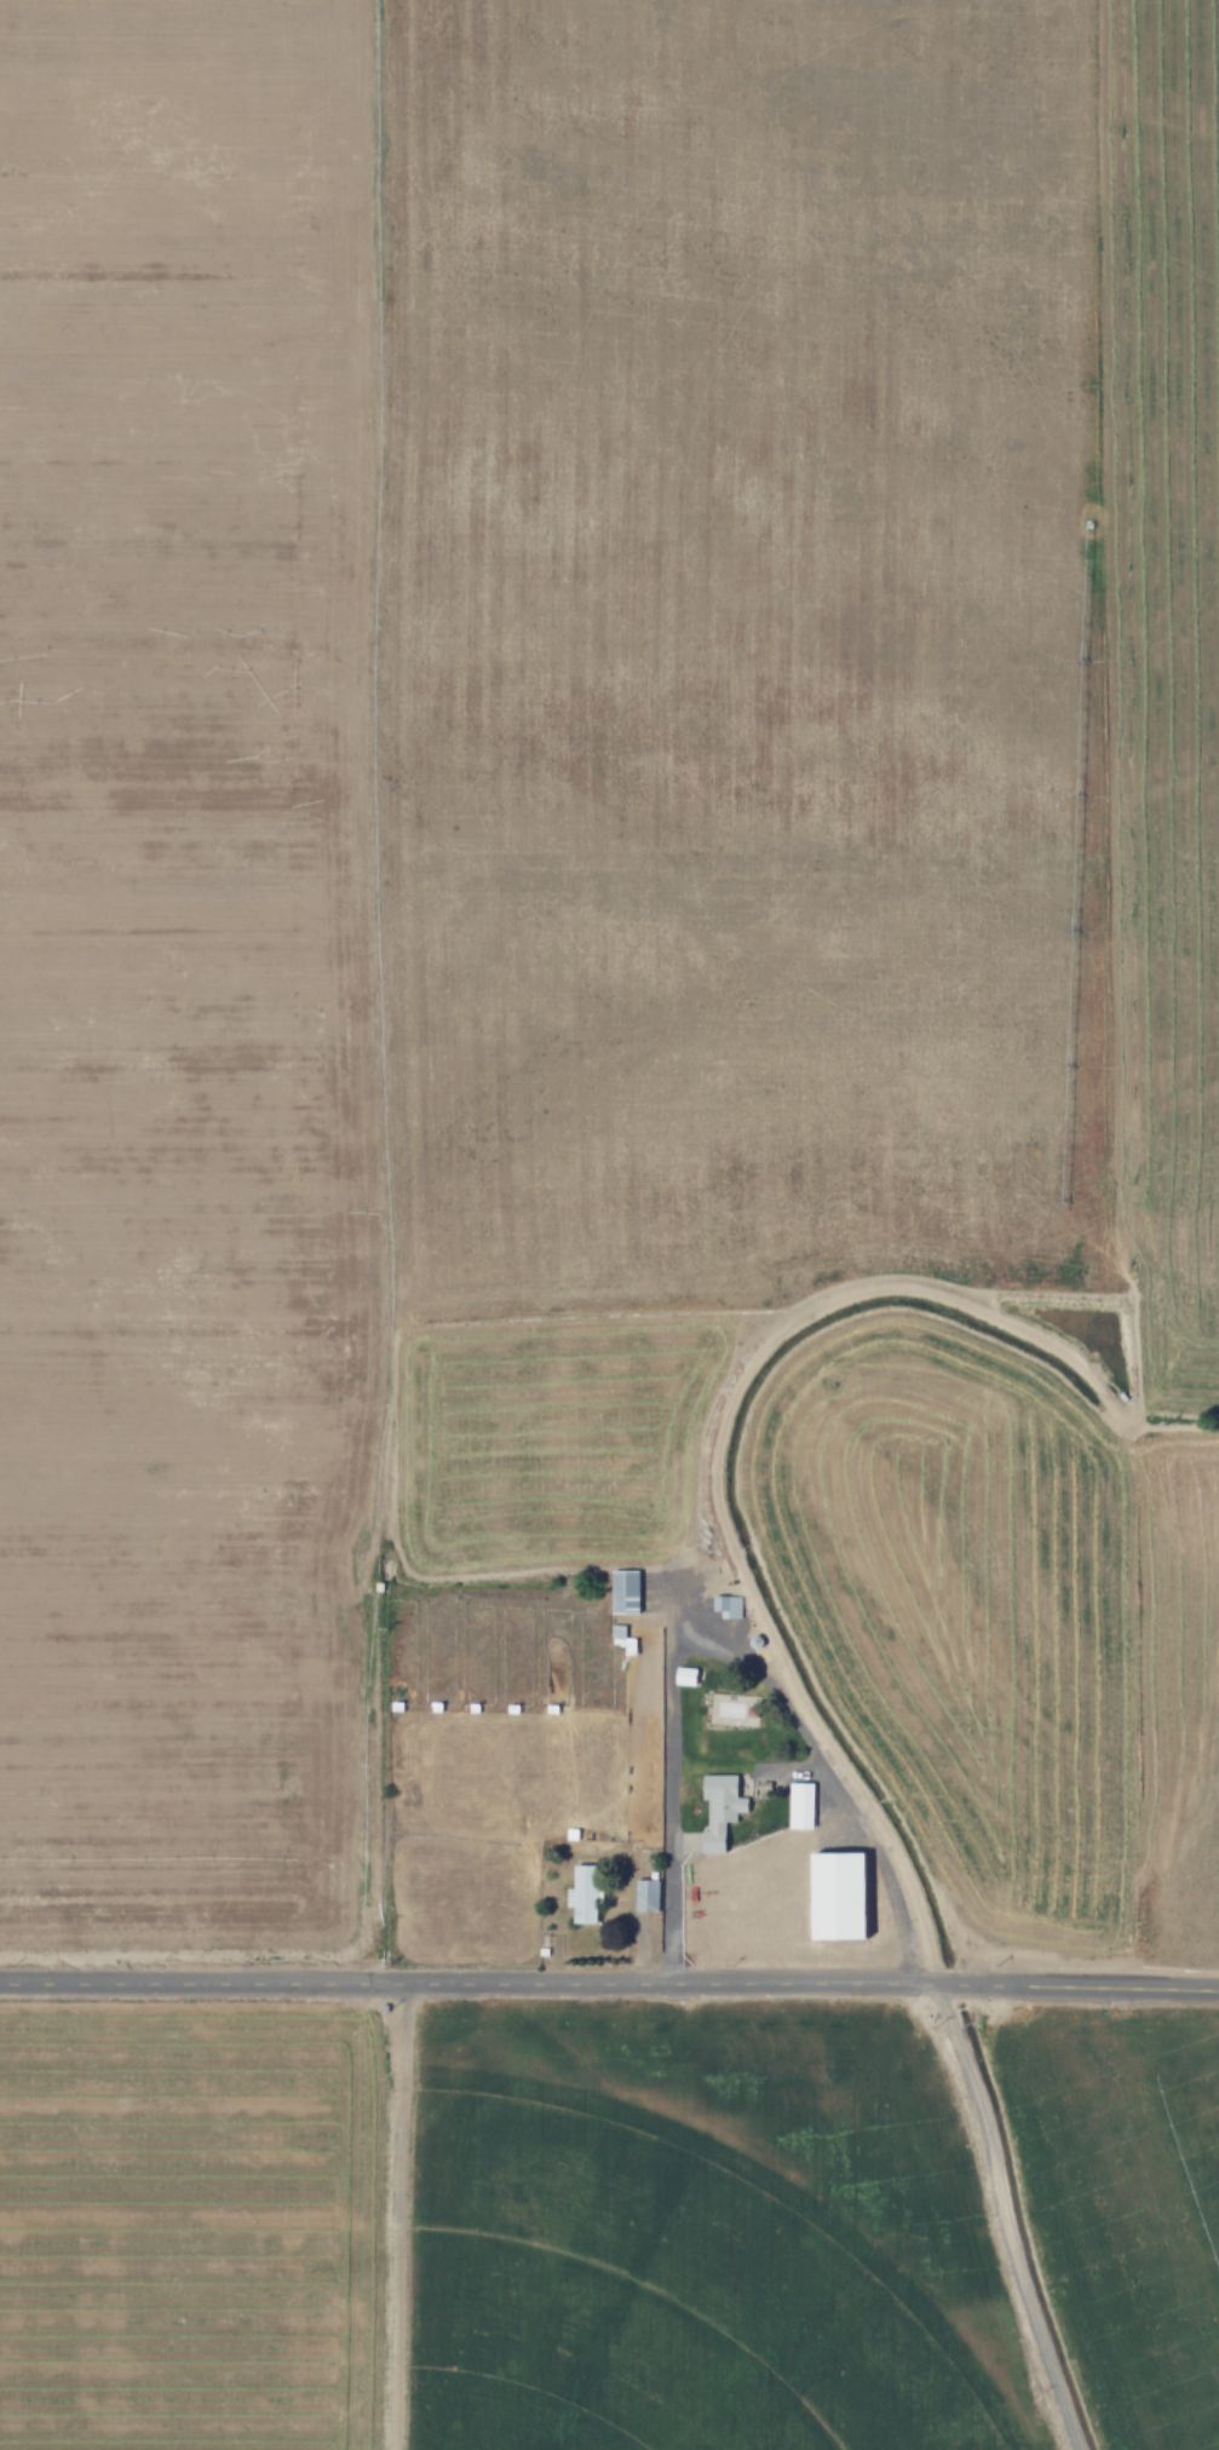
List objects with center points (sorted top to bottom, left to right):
building: (623, 1592)
building: (728, 1606)
building: (621, 1641)
building: (800, 1805)
building: (719, 1811)
building: (912, 1815)
building: (585, 1893)
building: (645, 1894)
building: (840, 1896)
road: (609, 1984)
road: (1010, 2216)

